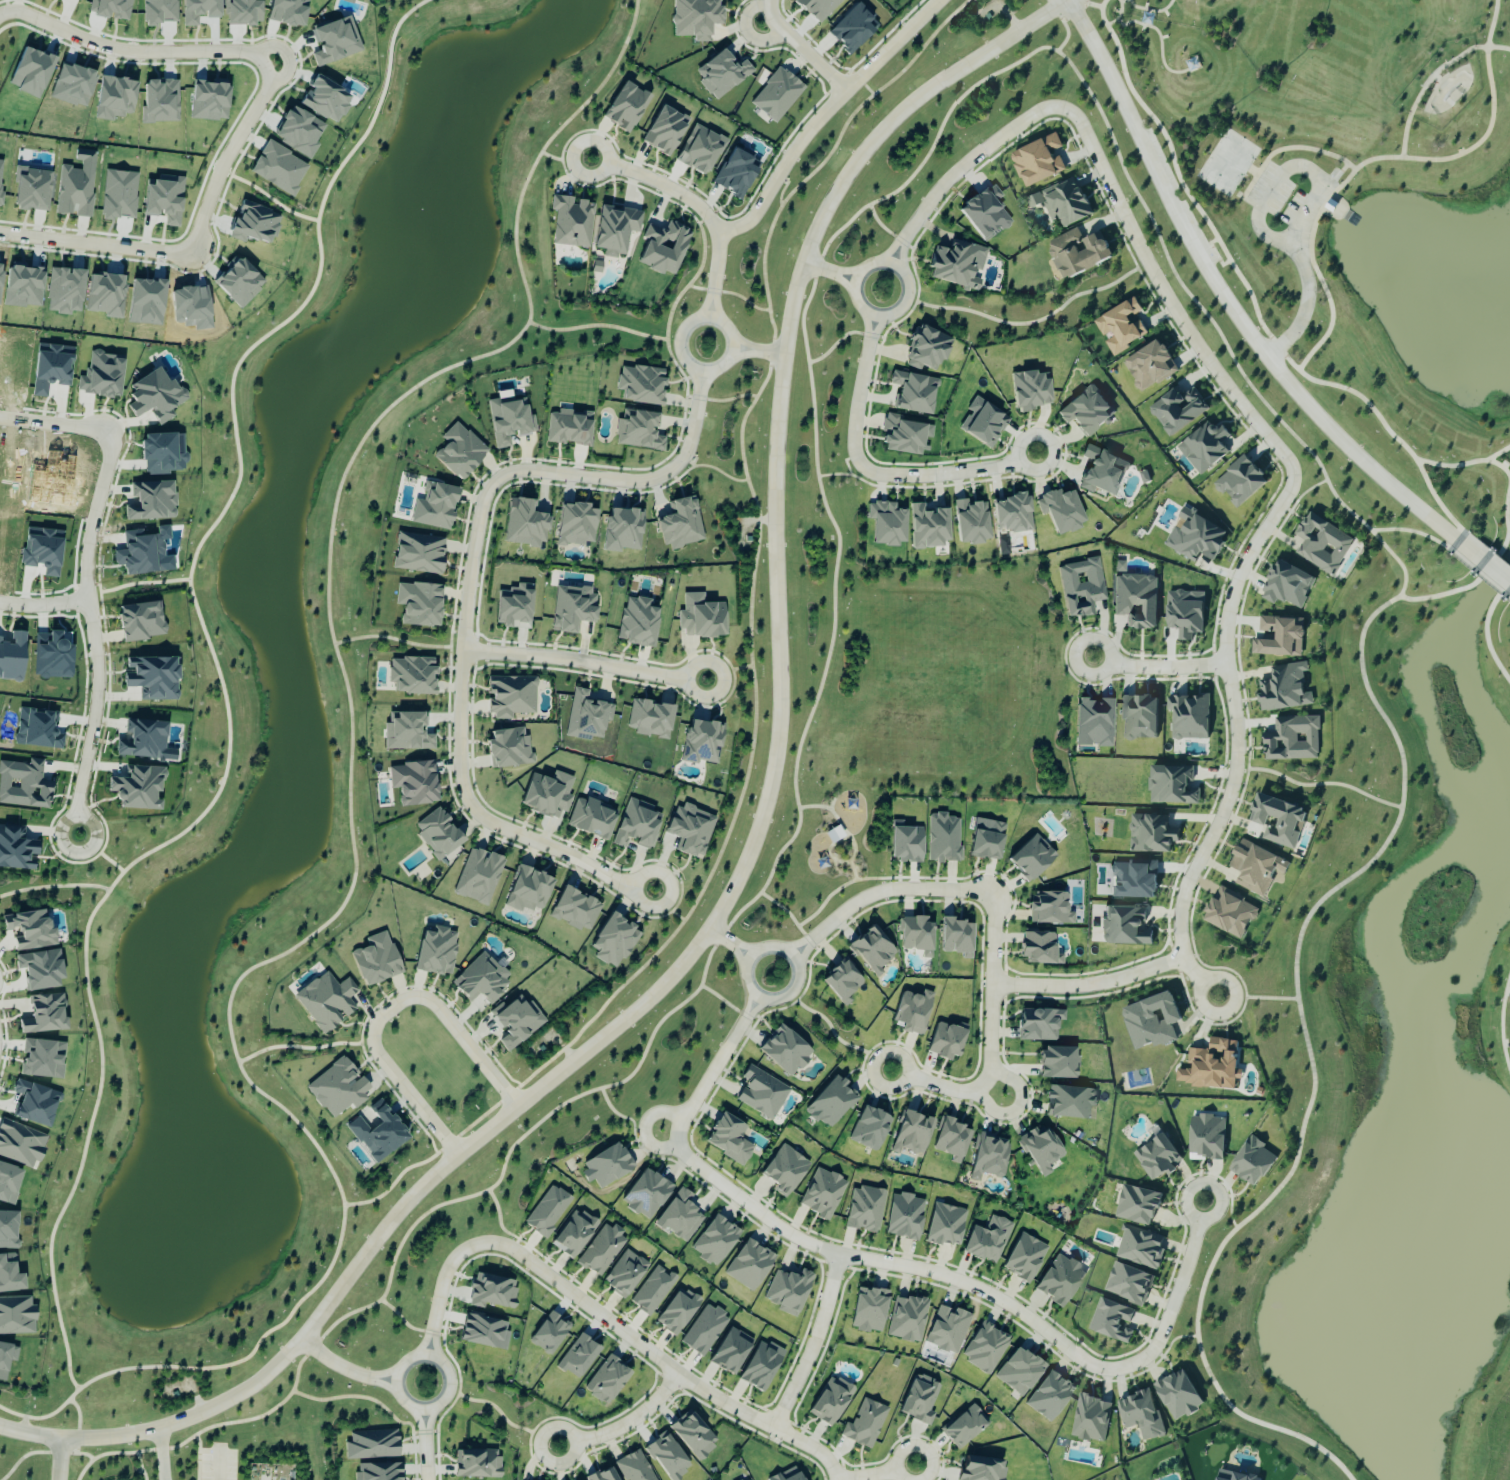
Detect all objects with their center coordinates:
road: (770, 1)
road: (1098, 4)
building: (818, 8)
road: (1145, 9)
building: (197, 10)
building: (157, 11)
building: (242, 12)
road: (1116, 14)
road: (1066, 17)
building: (695, 18)
building: (852, 28)
road: (746, 30)
road: (1158, 37)
building: (335, 41)
road: (1492, 46)
road: (803, 49)
building: (1192, 64)
road: (1435, 73)
building: (721, 74)
road: (867, 85)
building: (776, 94)
building: (325, 99)
building: (159, 101)
building: (626, 107)
road: (823, 115)
road: (242, 121)
building: (665, 130)
road: (1403, 134)
road: (1288, 146)
building: (699, 150)
park: (1326, 151)
road: (1375, 156)
building: (1038, 160)
park: (1228, 161)
building: (278, 168)
road: (959, 168)
road: (1253, 169)
road: (1338, 172)
building: (735, 173)
road: (785, 186)
building: (31, 189)
building: (74, 191)
road: (1266, 195)
building: (164, 200)
building: (1062, 202)
road: (697, 205)
building: (985, 213)
building: (571, 221)
building: (253, 224)
road: (882, 224)
building: (615, 230)
road: (1206, 243)
building: (663, 248)
building: (1078, 252)
road: (1218, 257)
building: (957, 265)
road: (830, 270)
road: (1304, 272)
road: (686, 285)
road: (1248, 289)
building: (63, 291)
road: (731, 292)
building: (104, 295)
road: (907, 298)
road: (1226, 300)
road: (1033, 321)
road: (598, 324)
building: (1121, 326)
road: (729, 327)
road: (838, 339)
building: (926, 350)
road: (760, 351)
building: (1149, 365)
building: (101, 376)
building: (640, 385)
building: (1031, 390)
building: (914, 393)
building: (155, 396)
road: (728, 398)
building: (1178, 410)
building: (1086, 411)
building: (509, 421)
road: (56, 422)
building: (983, 422)
building: (568, 428)
building: (638, 431)
building: (902, 436)
building: (1204, 447)
building: (459, 452)
building: (162, 453)
road: (1497, 453)
road: (845, 460)
road: (706, 464)
road: (872, 471)
building: (1102, 472)
road: (850, 473)
building: (1240, 480)
road: (881, 487)
building: (151, 501)
building: (435, 507)
building: (1061, 511)
building: (1012, 514)
building: (971, 522)
road: (1505, 523)
building: (524, 524)
building: (681, 524)
building: (887, 524)
building: (575, 525)
building: (928, 527)
road: (1262, 528)
building: (622, 530)
building: (1197, 537)
building: (1322, 543)
building: (418, 553)
building: (140, 554)
road: (1485, 564)
road: (835, 566)
building: (1119, 567)
building: (1288, 585)
building: (1081, 587)
road: (467, 598)
building: (1136, 600)
road: (43, 603)
building: (418, 604)
building: (514, 607)
building: (572, 608)
building: (1185, 613)
building: (701, 617)
building: (140, 622)
building: (637, 622)
road: (91, 630)
building: (1279, 637)
road: (398, 638)
road: (751, 648)
building: (11, 657)
road: (584, 662)
road: (1159, 667)
road: (728, 670)
building: (411, 676)
building: (152, 678)
building: (1284, 688)
building: (510, 696)
road: (217, 698)
park: (914, 702)
road: (351, 715)
building: (586, 717)
building: (1140, 717)
building: (1189, 717)
building: (649, 719)
building: (1094, 723)
building: (406, 732)
building: (1293, 739)
building: (144, 741)
building: (702, 742)
building: (509, 749)
building: (413, 783)
road: (1318, 783)
building: (23, 785)
building: (1171, 786)
building: (137, 789)
building: (547, 795)
road: (832, 802)
road: (830, 807)
building: (591, 818)
building: (1279, 821)
building: (635, 826)
building: (690, 830)
building: (437, 834)
road: (757, 834)
building: (1151, 834)
building: (942, 838)
road: (854, 842)
building: (988, 842)
building: (906, 845)
building: (15, 849)
building: (1031, 859)
road: (834, 865)
building: (1256, 868)
road: (854, 869)
road: (915, 875)
building: (478, 876)
building: (1134, 879)
road: (848, 881)
road: (54, 884)
building: (528, 890)
road: (882, 892)
road: (668, 905)
building: (1050, 909)
building: (575, 910)
road: (788, 911)
building: (1230, 913)
building: (1125, 926)
building: (30, 930)
building: (916, 935)
building: (955, 938)
building: (613, 941)
road: (731, 941)
building: (1038, 948)
building: (872, 951)
building: (436, 952)
building: (376, 960)
building: (480, 980)
building: (842, 982)
road: (1091, 984)
road: (993, 994)
road: (784, 995)
road: (1257, 998)
road: (724, 999)
building: (326, 1001)
road: (387, 1008)
building: (912, 1012)
building: (44, 1015)
road: (1502, 1020)
building: (1152, 1021)
building: (1039, 1025)
road: (836, 1033)
building: (945, 1042)
road: (303, 1046)
building: (785, 1051)
building: (42, 1059)
road: (1310, 1061)
road: (718, 1062)
building: (1058, 1064)
building: (1211, 1066)
road: (932, 1082)
building: (338, 1088)
building: (761, 1093)
building: (830, 1102)
building: (1069, 1103)
building: (32, 1104)
road: (1019, 1107)
road: (626, 1116)
building: (871, 1124)
road: (645, 1126)
building: (912, 1133)
building: (378, 1134)
building: (1207, 1137)
building: (729, 1138)
building: (951, 1139)
building: (20, 1144)
building: (1041, 1149)
road: (640, 1150)
building: (988, 1156)
building: (1158, 1156)
building: (1253, 1161)
building: (607, 1165)
building: (784, 1170)
building: (8, 1185)
building: (822, 1193)
building: (646, 1194)
building: (1138, 1204)
building: (864, 1209)
building: (547, 1211)
building: (679, 1216)
building: (904, 1216)
building: (945, 1224)
building: (8, 1230)
building: (573, 1233)
building: (714, 1240)
building: (987, 1240)
building: (1140, 1246)
building: (601, 1249)
building: (1024, 1257)
building: (749, 1264)
building: (625, 1273)
building: (9, 1274)
building: (1059, 1280)
building: (1128, 1282)
road: (985, 1285)
building: (653, 1290)
building: (491, 1291)
building: (788, 1291)
road: (437, 1296)
building: (869, 1310)
building: (677, 1311)
building: (16, 1315)
building: (907, 1318)
road: (404, 1319)
building: (1112, 1320)
building: (947, 1329)
building: (704, 1330)
building: (484, 1331)
building: (549, 1333)
road: (815, 1342)
building: (985, 1348)
building: (730, 1351)
road: (653, 1354)
building: (578, 1356)
building: (6, 1357)
building: (760, 1365)
road: (344, 1368)
building: (1019, 1371)
building: (606, 1380)
building: (1179, 1394)
road: (365, 1396)
building: (1049, 1396)
building: (920, 1399)
building: (830, 1400)
road: (427, 1409)
building: (1141, 1414)
road: (35, 1417)
building: (1090, 1418)
building: (864, 1423)
road: (628, 1424)
building: (964, 1426)
road: (30, 1433)
building: (693, 1434)
building: (372, 1445)
road: (425, 1445)
road: (42, 1449)
road: (162, 1453)
park: (170, 1454)
road: (198, 1456)
building: (668, 1457)
road: (59, 1458)
road: (218, 1460)
building: (477, 1463)
road: (141, 1465)
building: (634, 1467)
building: (982, 1468)
building: (378, 1471)
road: (874, 1474)
building: (604, 1475)
building: (787, 1475)
building: (1234, 1476)
building: (746, 1479)
road: (834, 1479)

